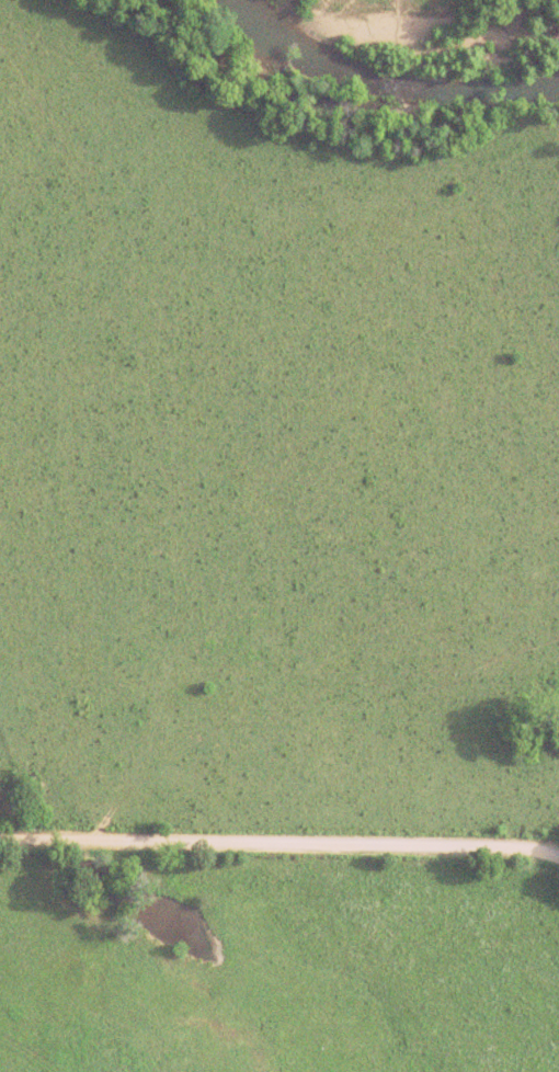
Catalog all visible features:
road: (279, 842)

